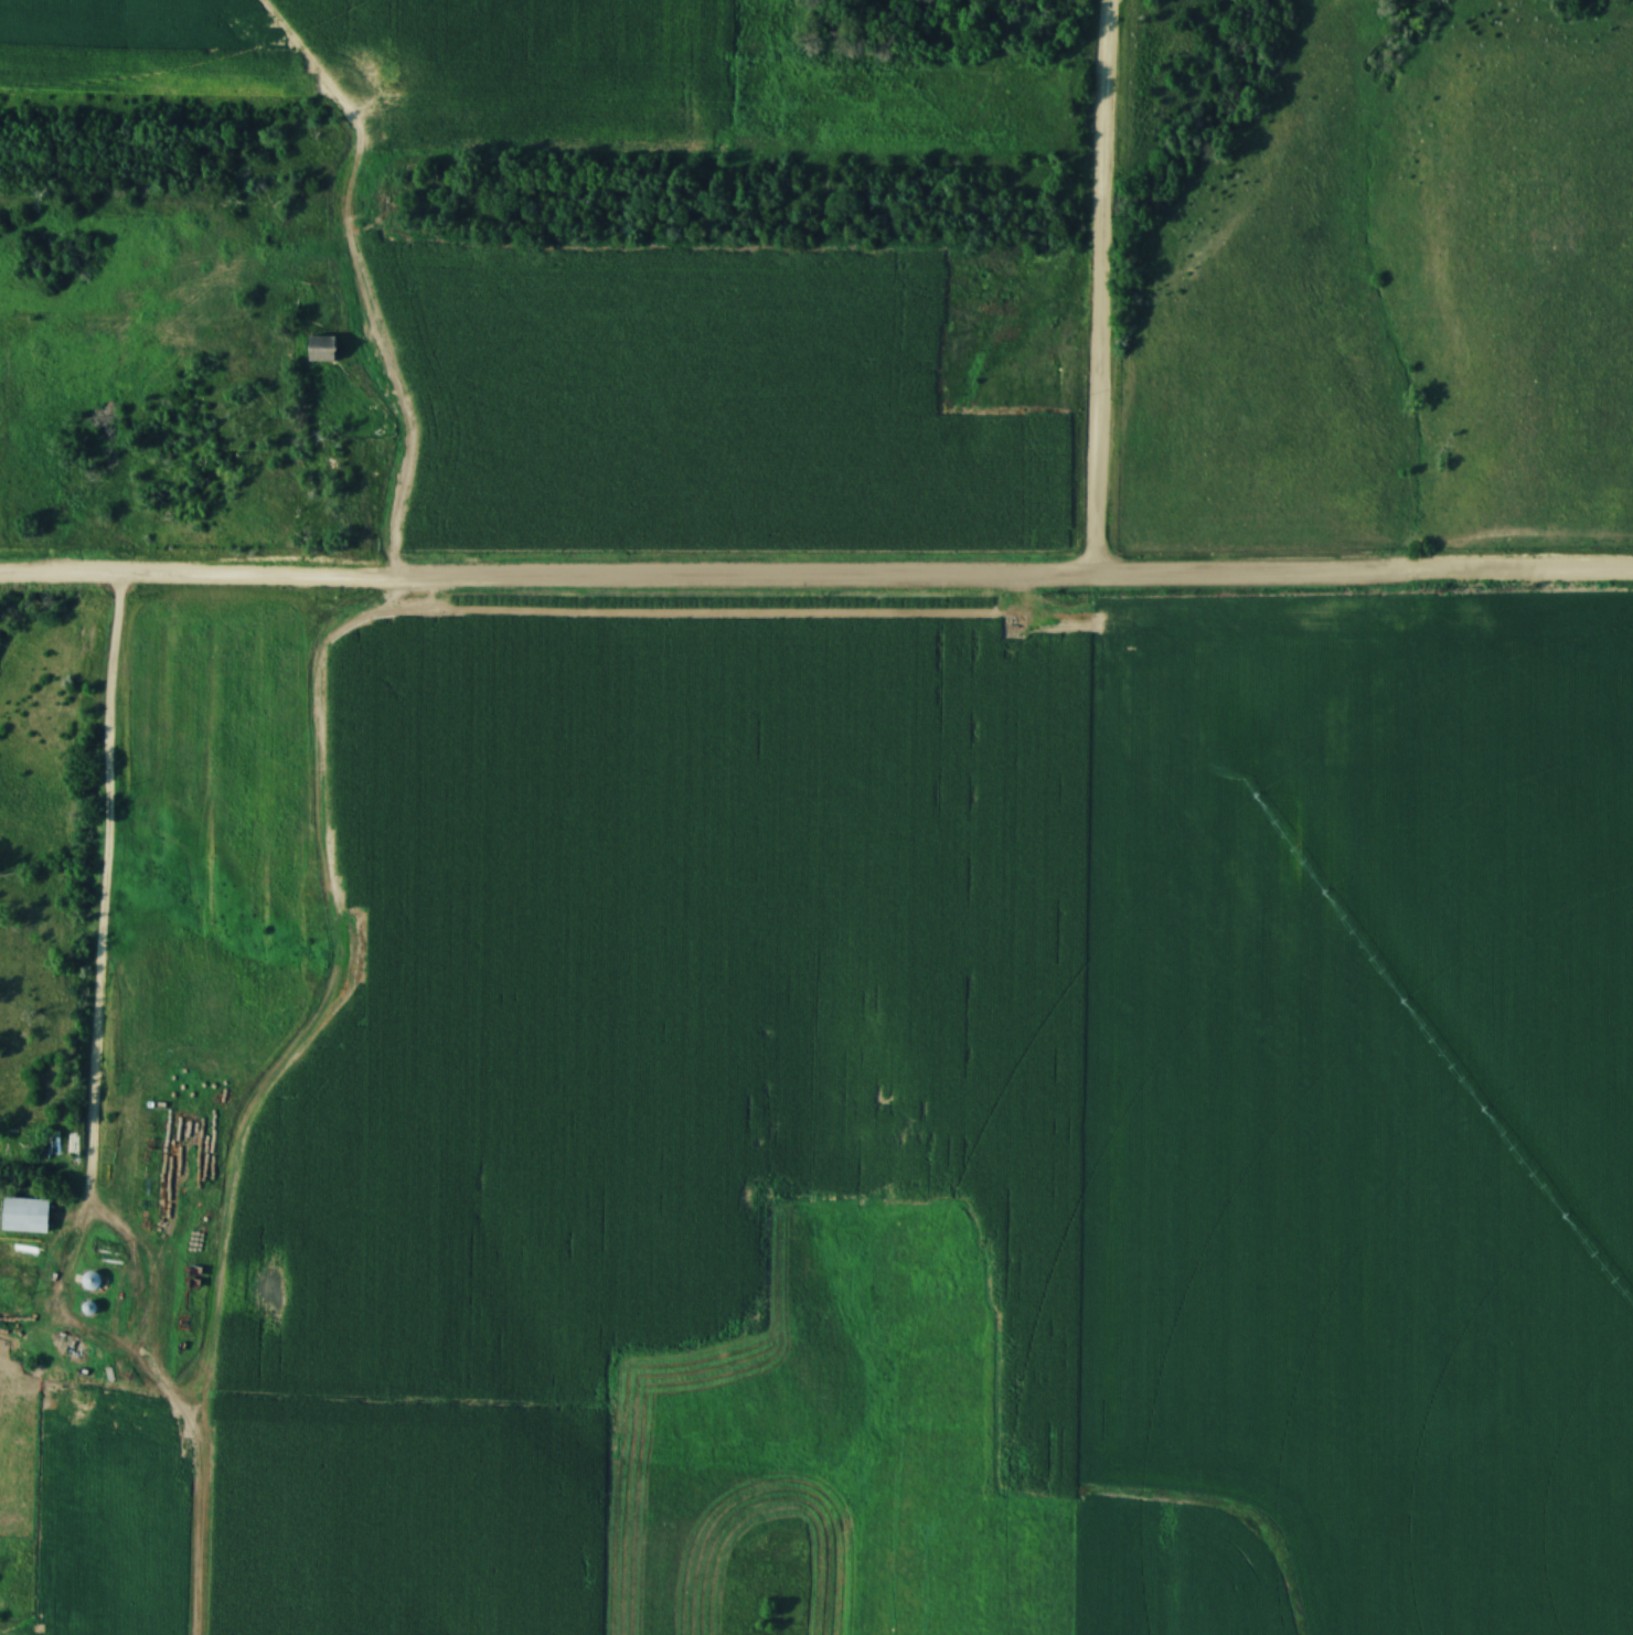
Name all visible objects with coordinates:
road: (1100, 291)
building: (320, 350)
road: (815, 584)
road: (87, 1119)
building: (23, 1216)

